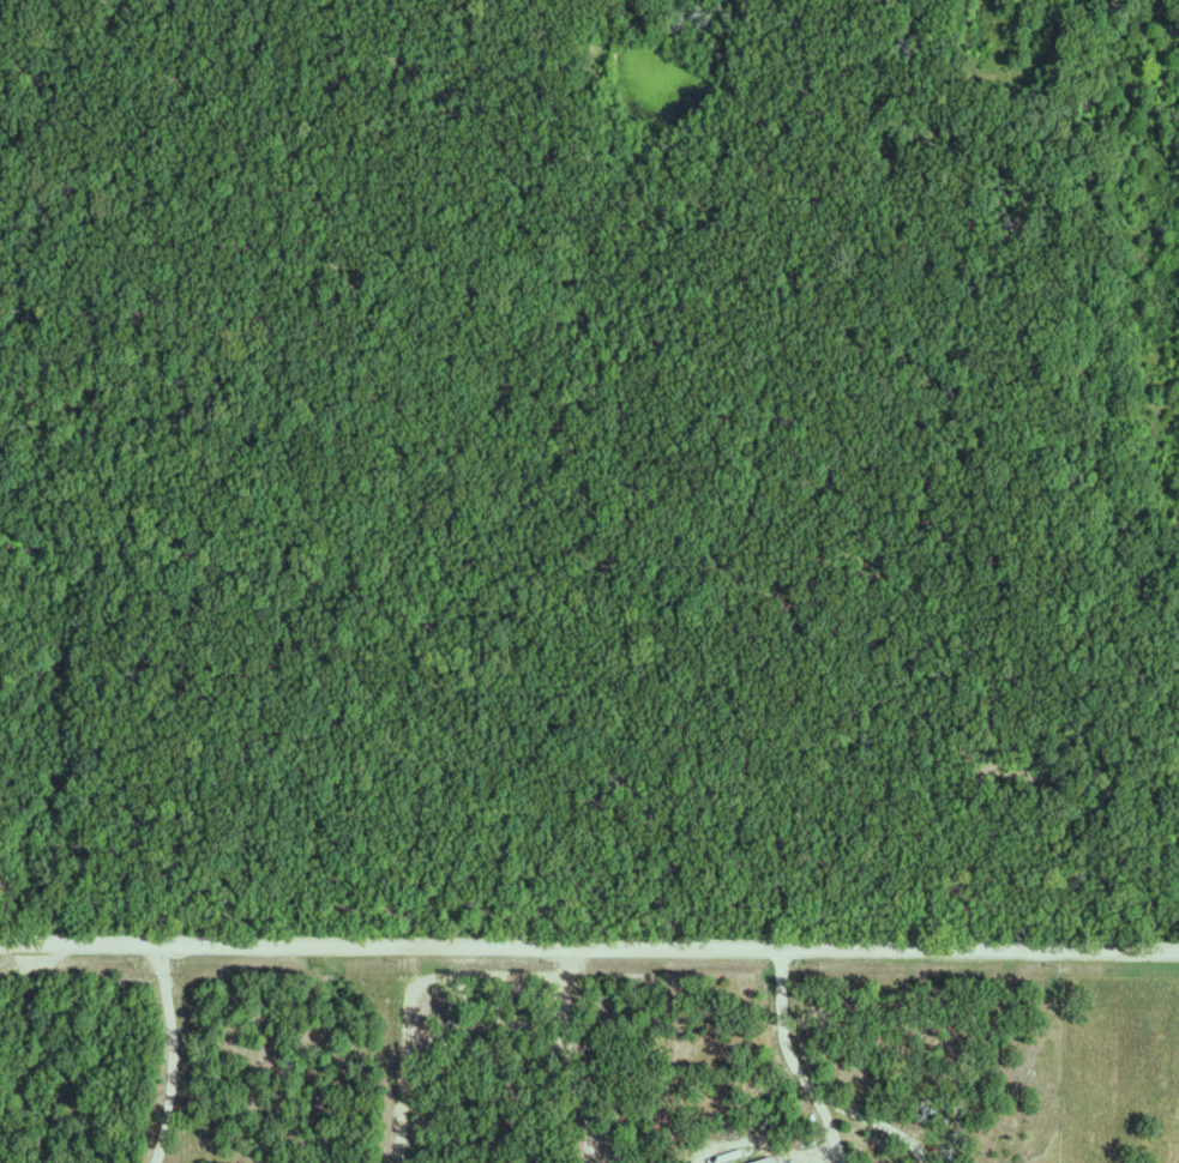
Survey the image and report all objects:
road: (589, 947)
road: (175, 1054)
road: (1058, 1056)
building: (766, 1159)

